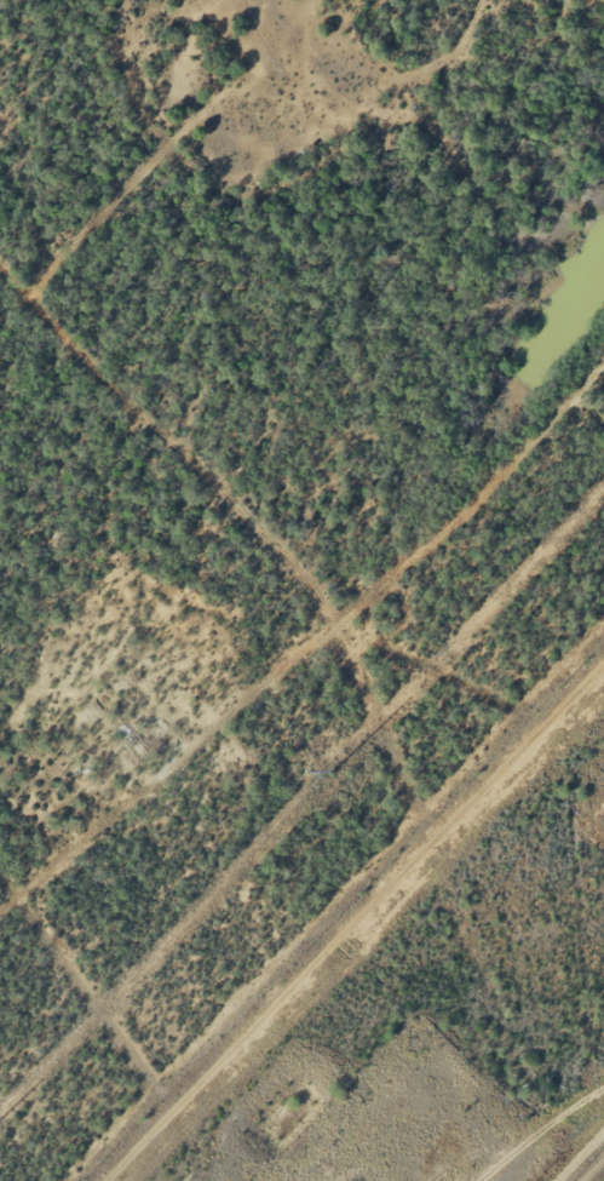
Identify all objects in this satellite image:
power tower: (332, 772)
road: (579, 1154)

